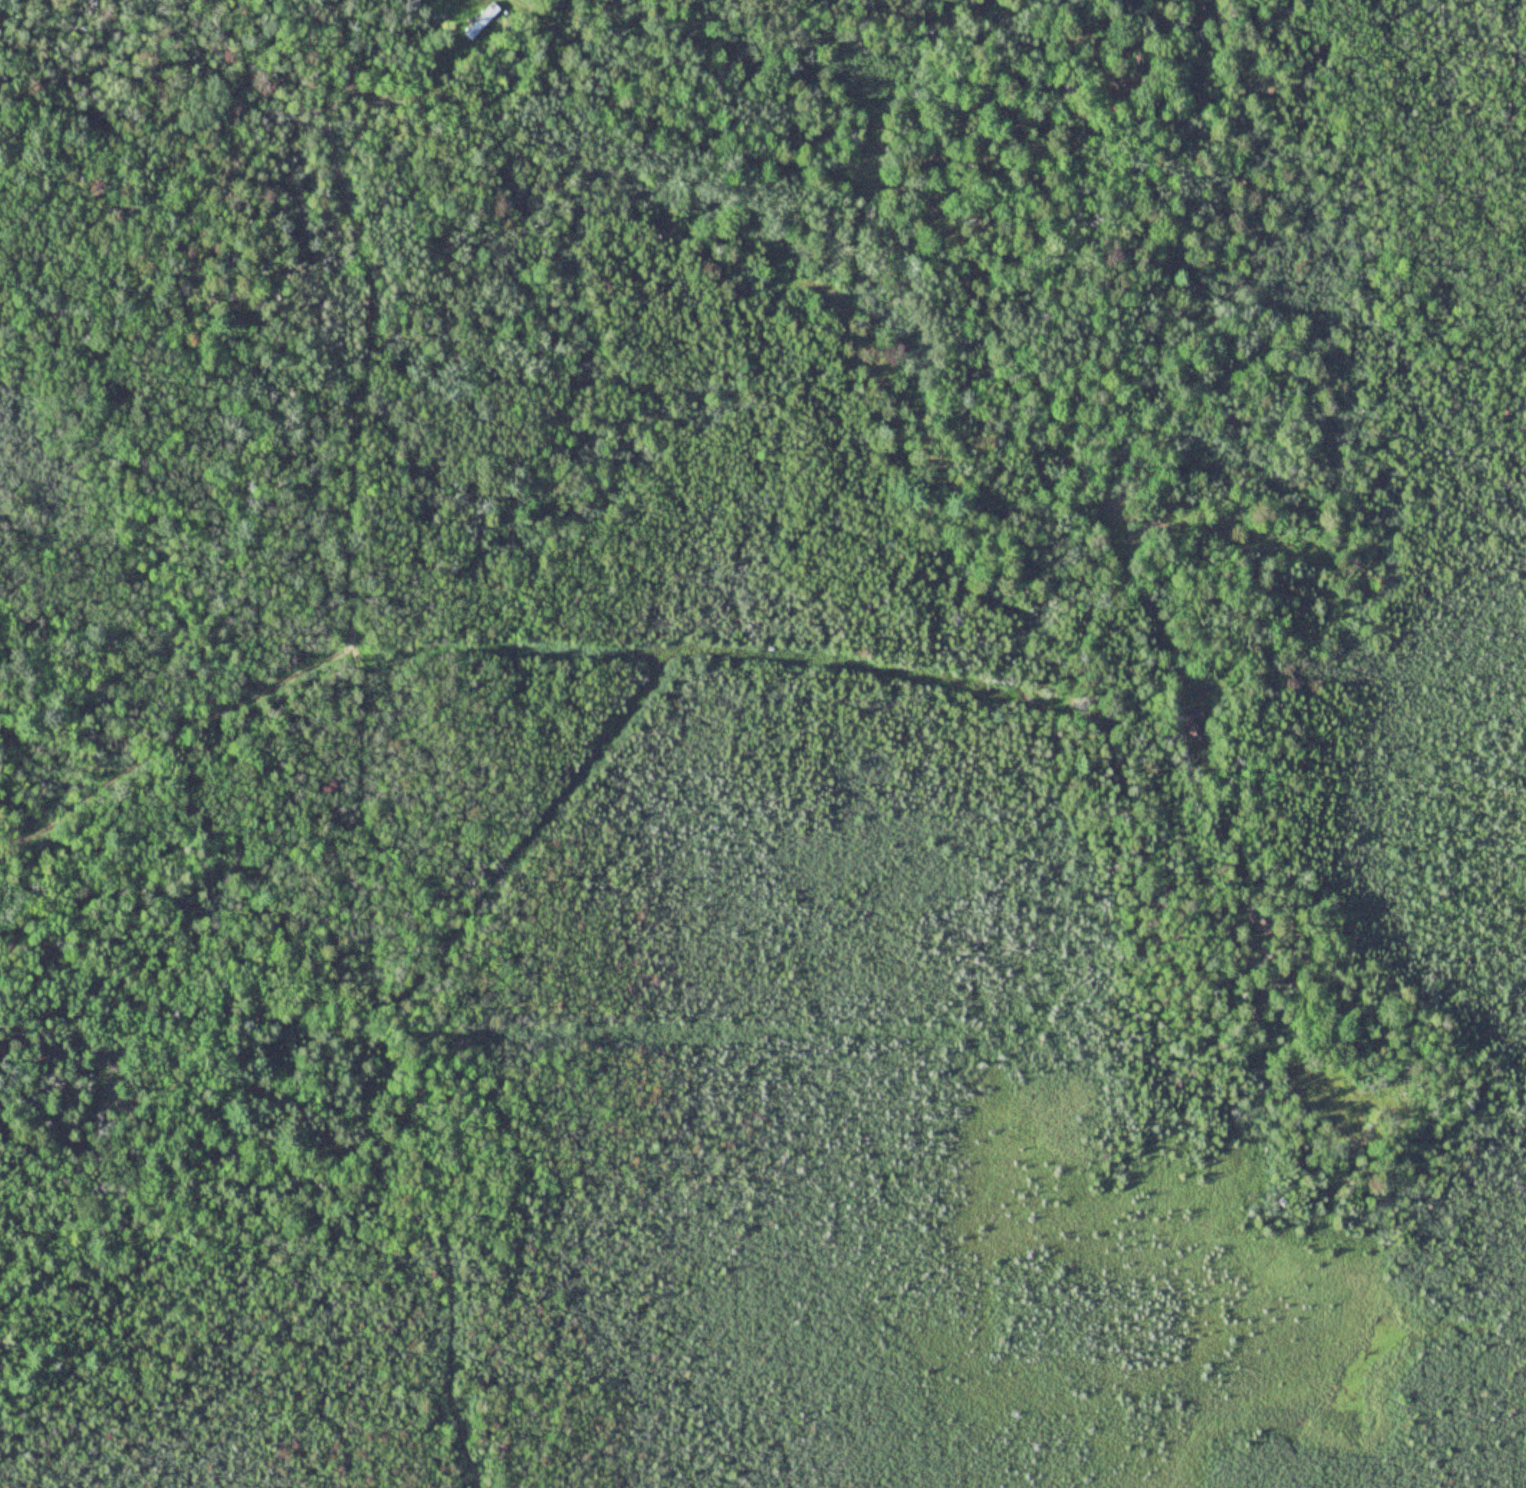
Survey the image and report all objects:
building: (1189, 722)

